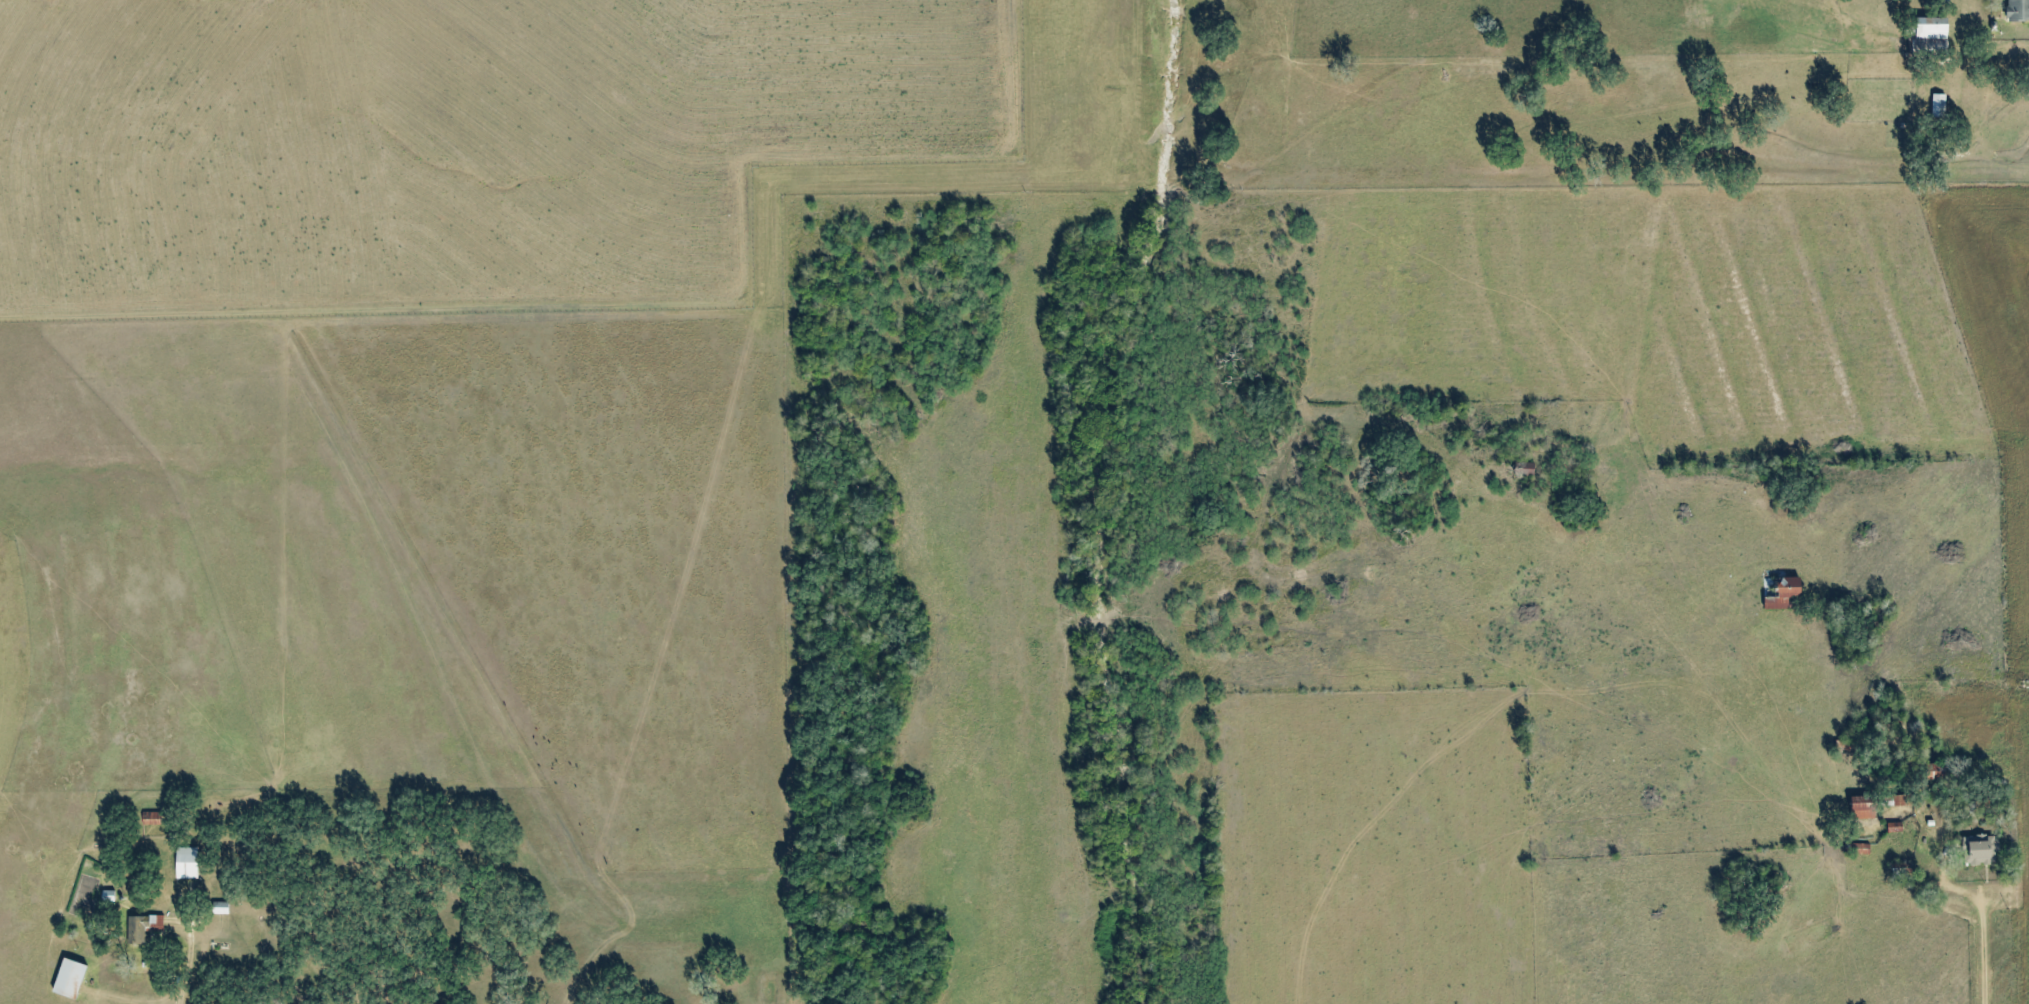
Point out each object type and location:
building: (2018, 9)
building: (1931, 28)
building: (1939, 105)
building: (1785, 593)
building: (151, 818)
building: (1980, 850)
building: (186, 862)
building: (151, 922)
building: (70, 977)

